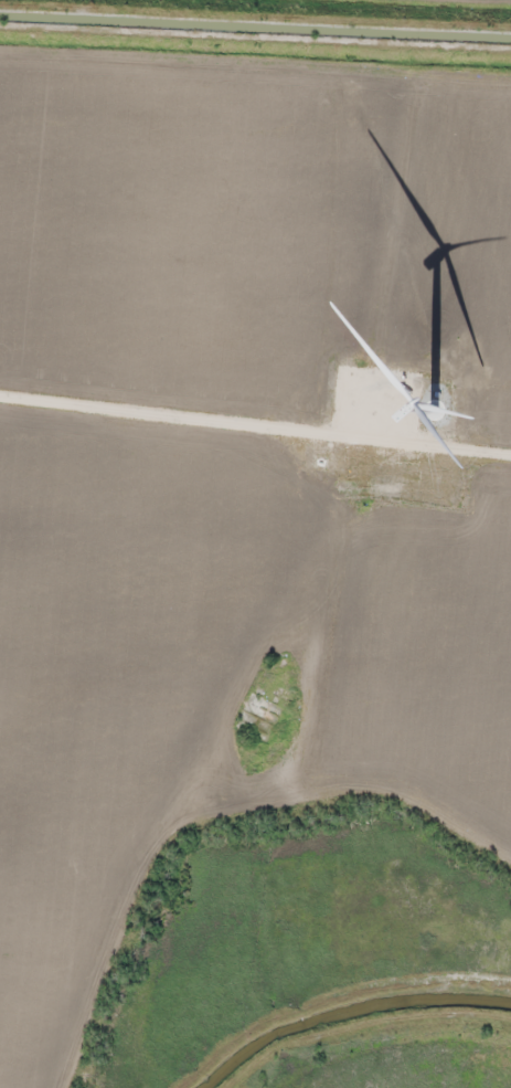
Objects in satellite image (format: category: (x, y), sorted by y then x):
wind turbine: (435, 405)
building: (258, 718)

